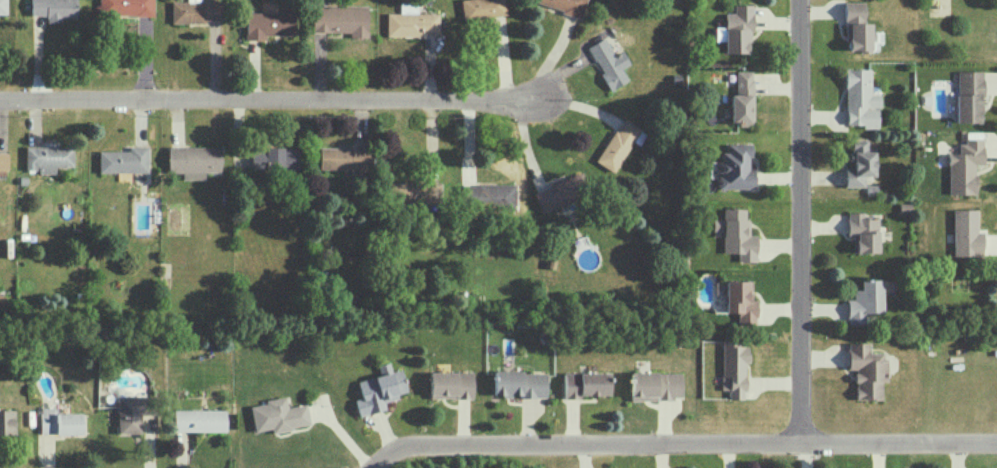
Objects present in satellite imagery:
building: (563, 5)
building: (2, 6)
building: (125, 7)
building: (481, 8)
building: (53, 9)
building: (196, 11)
building: (852, 11)
building: (339, 19)
building: (410, 21)
building: (269, 24)
building: (737, 29)
building: (858, 36)
building: (608, 62)
building: (968, 95)
building: (860, 98)
building: (741, 99)
road: (272, 102)
building: (618, 144)
building: (47, 157)
building: (273, 157)
building: (343, 158)
building: (123, 160)
building: (193, 160)
building: (858, 164)
building: (963, 166)
building: (734, 167)
building: (413, 192)
building: (559, 192)
building: (487, 195)
road: (799, 219)
building: (862, 232)
building: (965, 233)
building: (736, 234)
building: (740, 300)
building: (864, 300)
building: (734, 367)
building: (866, 370)
building: (519, 383)
building: (585, 383)
building: (450, 384)
building: (655, 385)
building: (379, 389)
building: (131, 412)
building: (278, 415)
building: (199, 420)
building: (7, 421)
building: (59, 421)
road: (339, 430)
road: (683, 440)

